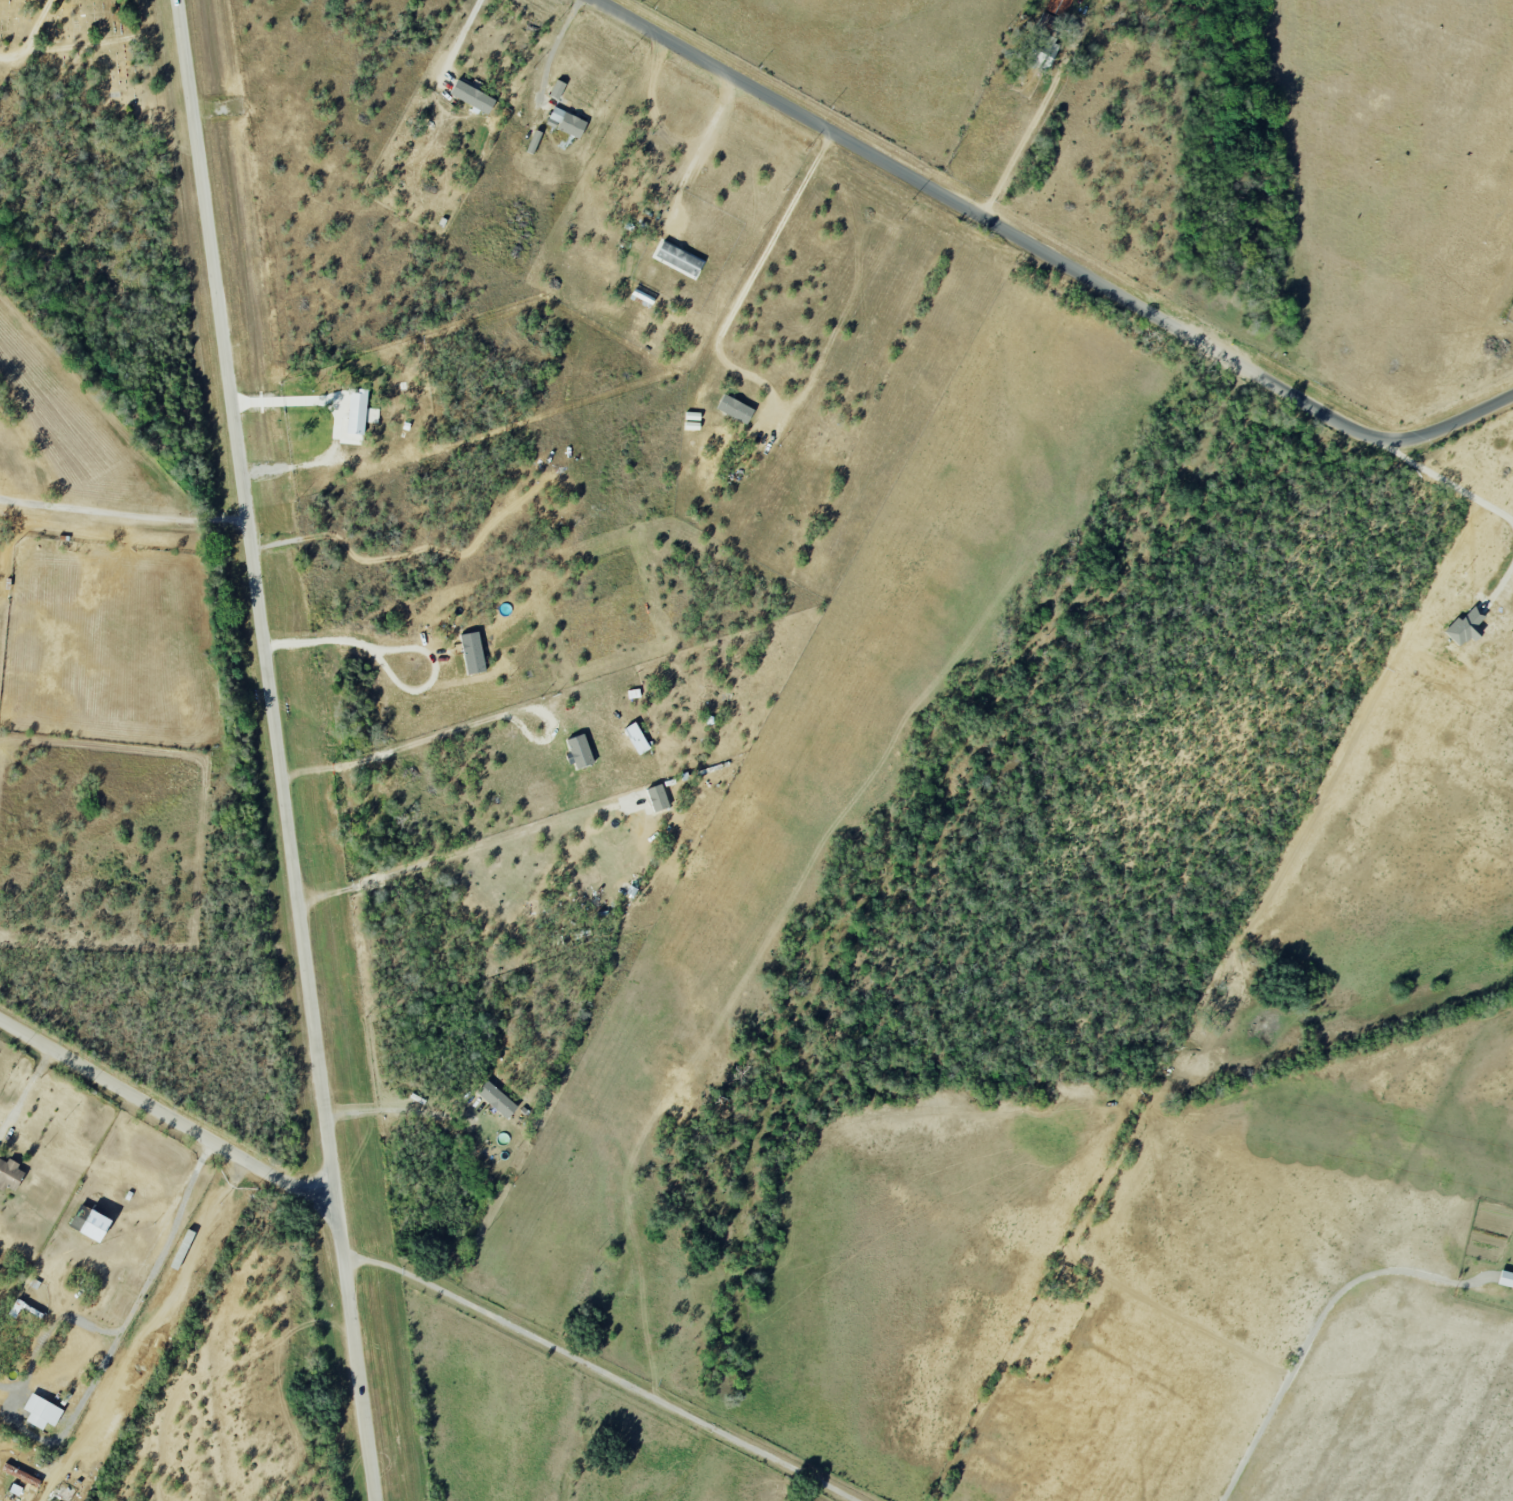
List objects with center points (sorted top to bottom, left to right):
road: (31, 35)
building: (1048, 35)
road: (98, 37)
road: (461, 39)
park: (87, 51)
road: (552, 51)
building: (558, 89)
building: (473, 96)
road: (652, 103)
building: (567, 122)
road: (1032, 127)
road: (700, 149)
road: (1051, 256)
building: (679, 258)
road: (754, 273)
road: (283, 397)
building: (736, 409)
building: (359, 417)
road: (122, 515)
road: (256, 600)
road: (454, 730)
building: (637, 737)
building: (581, 750)
building: (658, 797)
road: (24, 1092)
building: (497, 1099)
road: (393, 1108)
road: (165, 1114)
building: (10, 1174)
building: (1506, 1279)
road: (1319, 1317)
road: (149, 1332)
road: (355, 1351)
road: (601, 1380)
road: (88, 1395)
building: (42, 1412)

